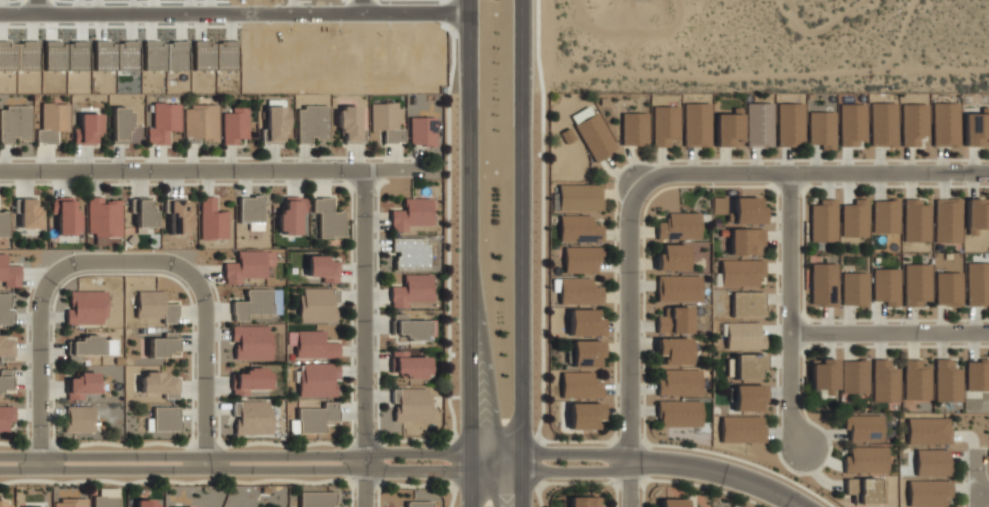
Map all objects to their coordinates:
road: (360, 4)
road: (34, 5)
road: (234, 9)
building: (125, 55)
building: (164, 55)
building: (203, 55)
building: (224, 55)
building: (75, 63)
building: (851, 120)
building: (51, 121)
building: (386, 121)
building: (163, 122)
building: (13, 123)
building: (199, 123)
building: (275, 123)
building: (311, 123)
building: (349, 124)
building: (696, 124)
building: (758, 124)
building: (789, 124)
building: (883, 124)
building: (914, 124)
building: (945, 124)
building: (119, 125)
building: (234, 125)
building: (664, 125)
building: (87, 128)
building: (634, 128)
building: (728, 128)
building: (976, 128)
building: (821, 129)
road: (468, 130)
building: (421, 131)
building: (592, 132)
road: (208, 170)
road: (813, 173)
building: (579, 197)
building: (747, 210)
building: (250, 211)
building: (411, 213)
building: (28, 214)
building: (142, 214)
building: (65, 215)
building: (291, 215)
building: (178, 216)
building: (885, 216)
building: (975, 216)
building: (327, 218)
building: (854, 218)
building: (102, 219)
building: (212, 220)
building: (823, 220)
building: (915, 220)
building: (947, 220)
building: (3, 224)
building: (678, 226)
building: (578, 229)
building: (745, 241)
building: (409, 252)
road: (523, 253)
building: (672, 257)
building: (581, 258)
building: (247, 265)
building: (322, 268)
building: (741, 272)
building: (9, 273)
building: (823, 284)
building: (916, 284)
building: (977, 285)
building: (885, 286)
building: (677, 288)
building: (854, 288)
building: (946, 289)
building: (411, 290)
building: (578, 291)
building: (747, 303)
building: (252, 304)
building: (317, 304)
building: (155, 306)
building: (85, 307)
building: (4, 310)
road: (791, 311)
building: (674, 321)
building: (584, 322)
building: (409, 327)
road: (203, 330)
road: (37, 331)
road: (890, 333)
building: (743, 335)
road: (363, 338)
building: (251, 343)
building: (162, 344)
road: (629, 344)
building: (315, 345)
building: (84, 347)
building: (5, 349)
building: (673, 350)
building: (586, 353)
building: (410, 365)
building: (747, 365)
building: (977, 375)
building: (823, 376)
building: (854, 376)
building: (5, 379)
building: (317, 379)
building: (250, 380)
building: (916, 380)
building: (884, 381)
building: (946, 381)
building: (678, 382)
building: (159, 384)
road: (467, 384)
building: (81, 385)
building: (580, 385)
building: (747, 397)
building: (411, 404)
building: (678, 413)
building: (584, 415)
building: (6, 417)
building: (251, 417)
building: (316, 417)
building: (165, 418)
building: (78, 419)
building: (863, 427)
building: (741, 429)
building: (928, 430)
building: (865, 459)
road: (496, 461)
road: (234, 462)
road: (665, 462)
building: (932, 462)
road: (978, 479)
road: (642, 481)
road: (578, 483)
road: (692, 484)
building: (865, 489)
building: (928, 492)
road: (983, 493)
building: (106, 498)
building: (316, 499)
building: (585, 501)
building: (144, 502)
building: (671, 502)
building: (2, 503)
building: (69, 503)
building: (418, 504)
building: (26, 506)

